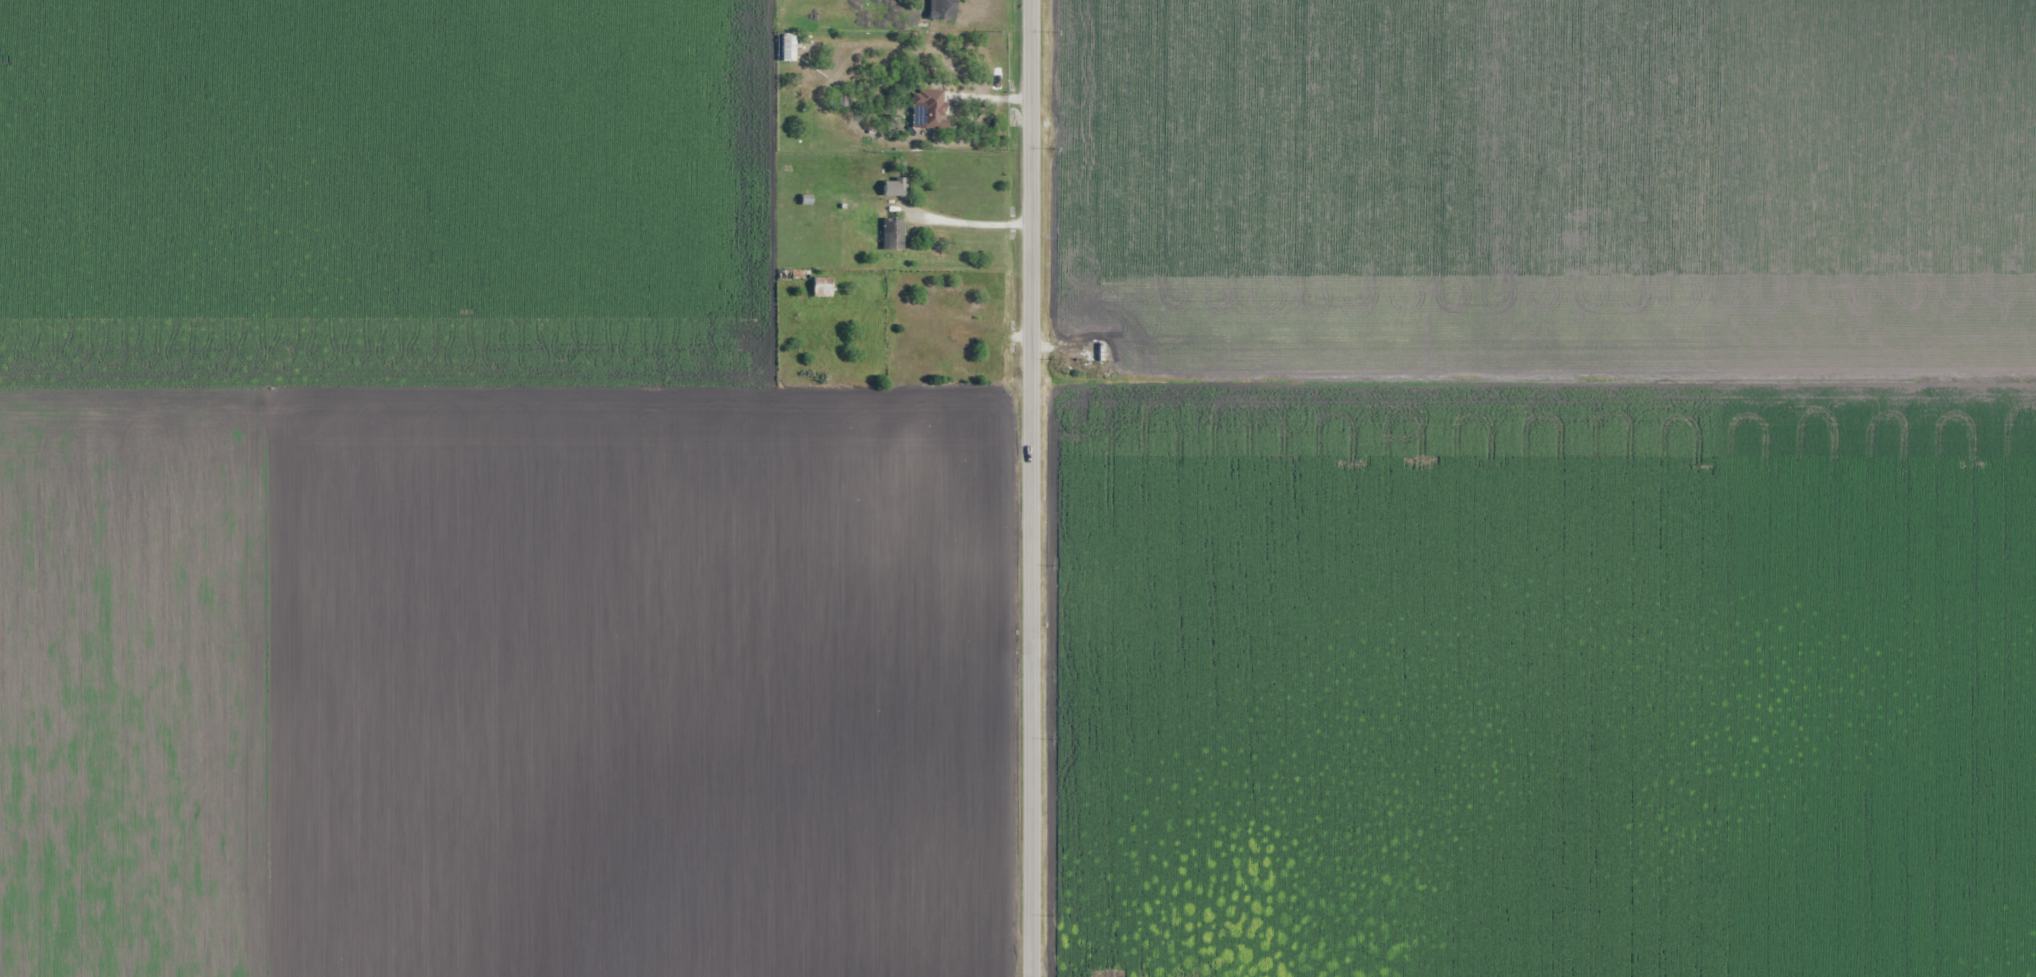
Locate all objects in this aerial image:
building: (940, 9)
building: (786, 47)
building: (930, 107)
building: (892, 185)
building: (892, 234)
building: (821, 287)
road: (1030, 488)

